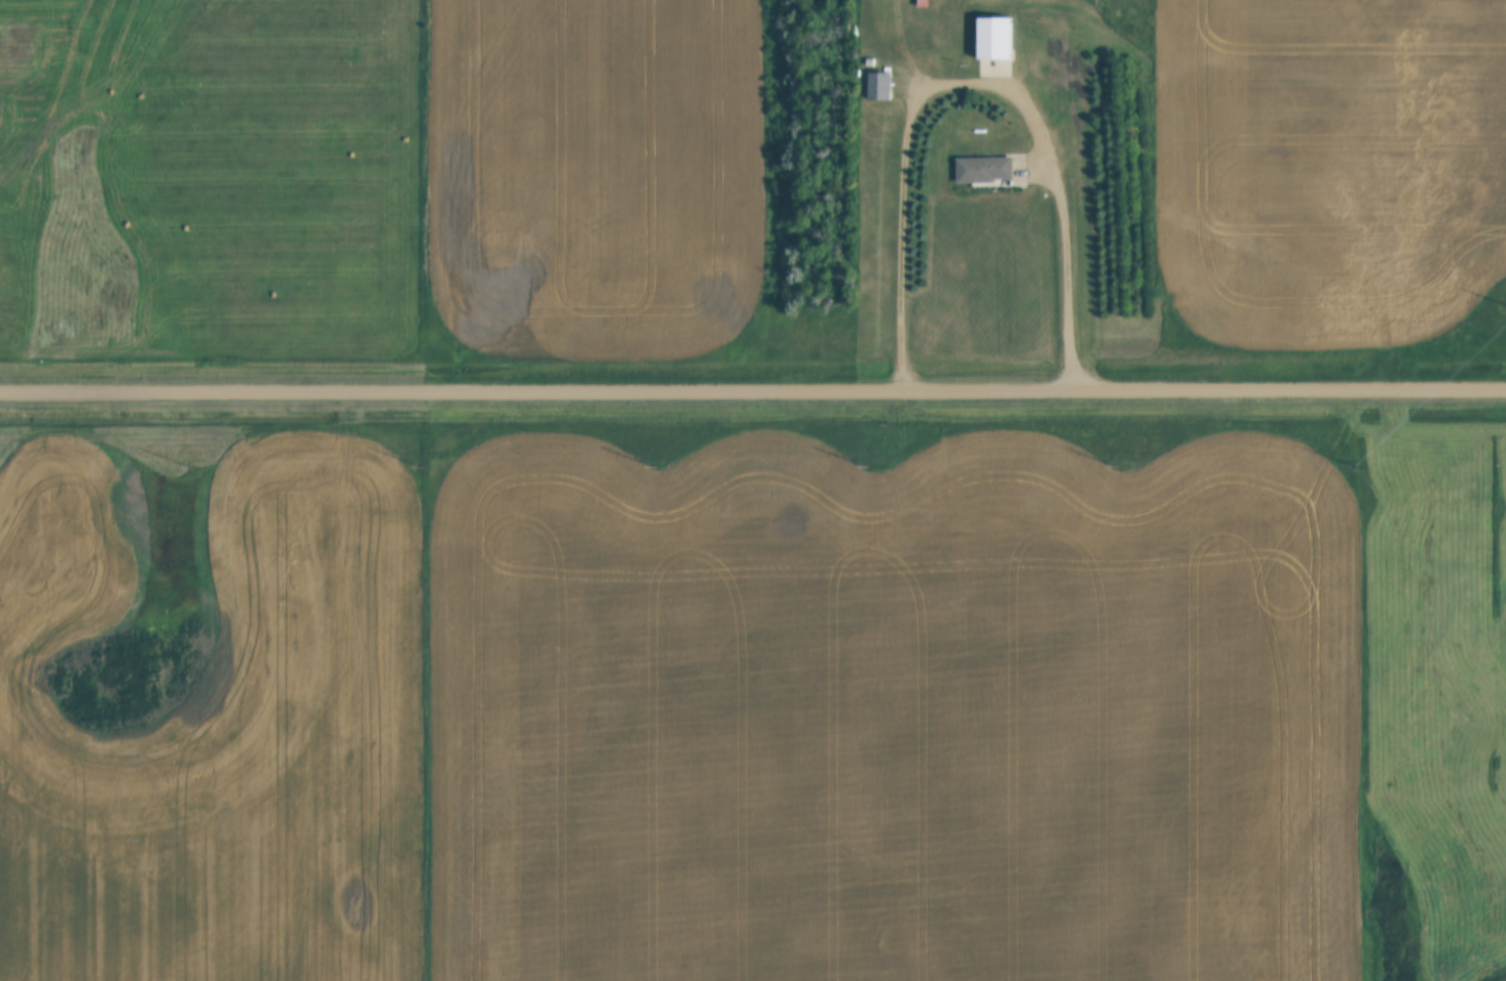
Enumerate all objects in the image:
building: (996, 47)
road: (977, 81)
building: (880, 87)
building: (985, 171)
road: (753, 389)

